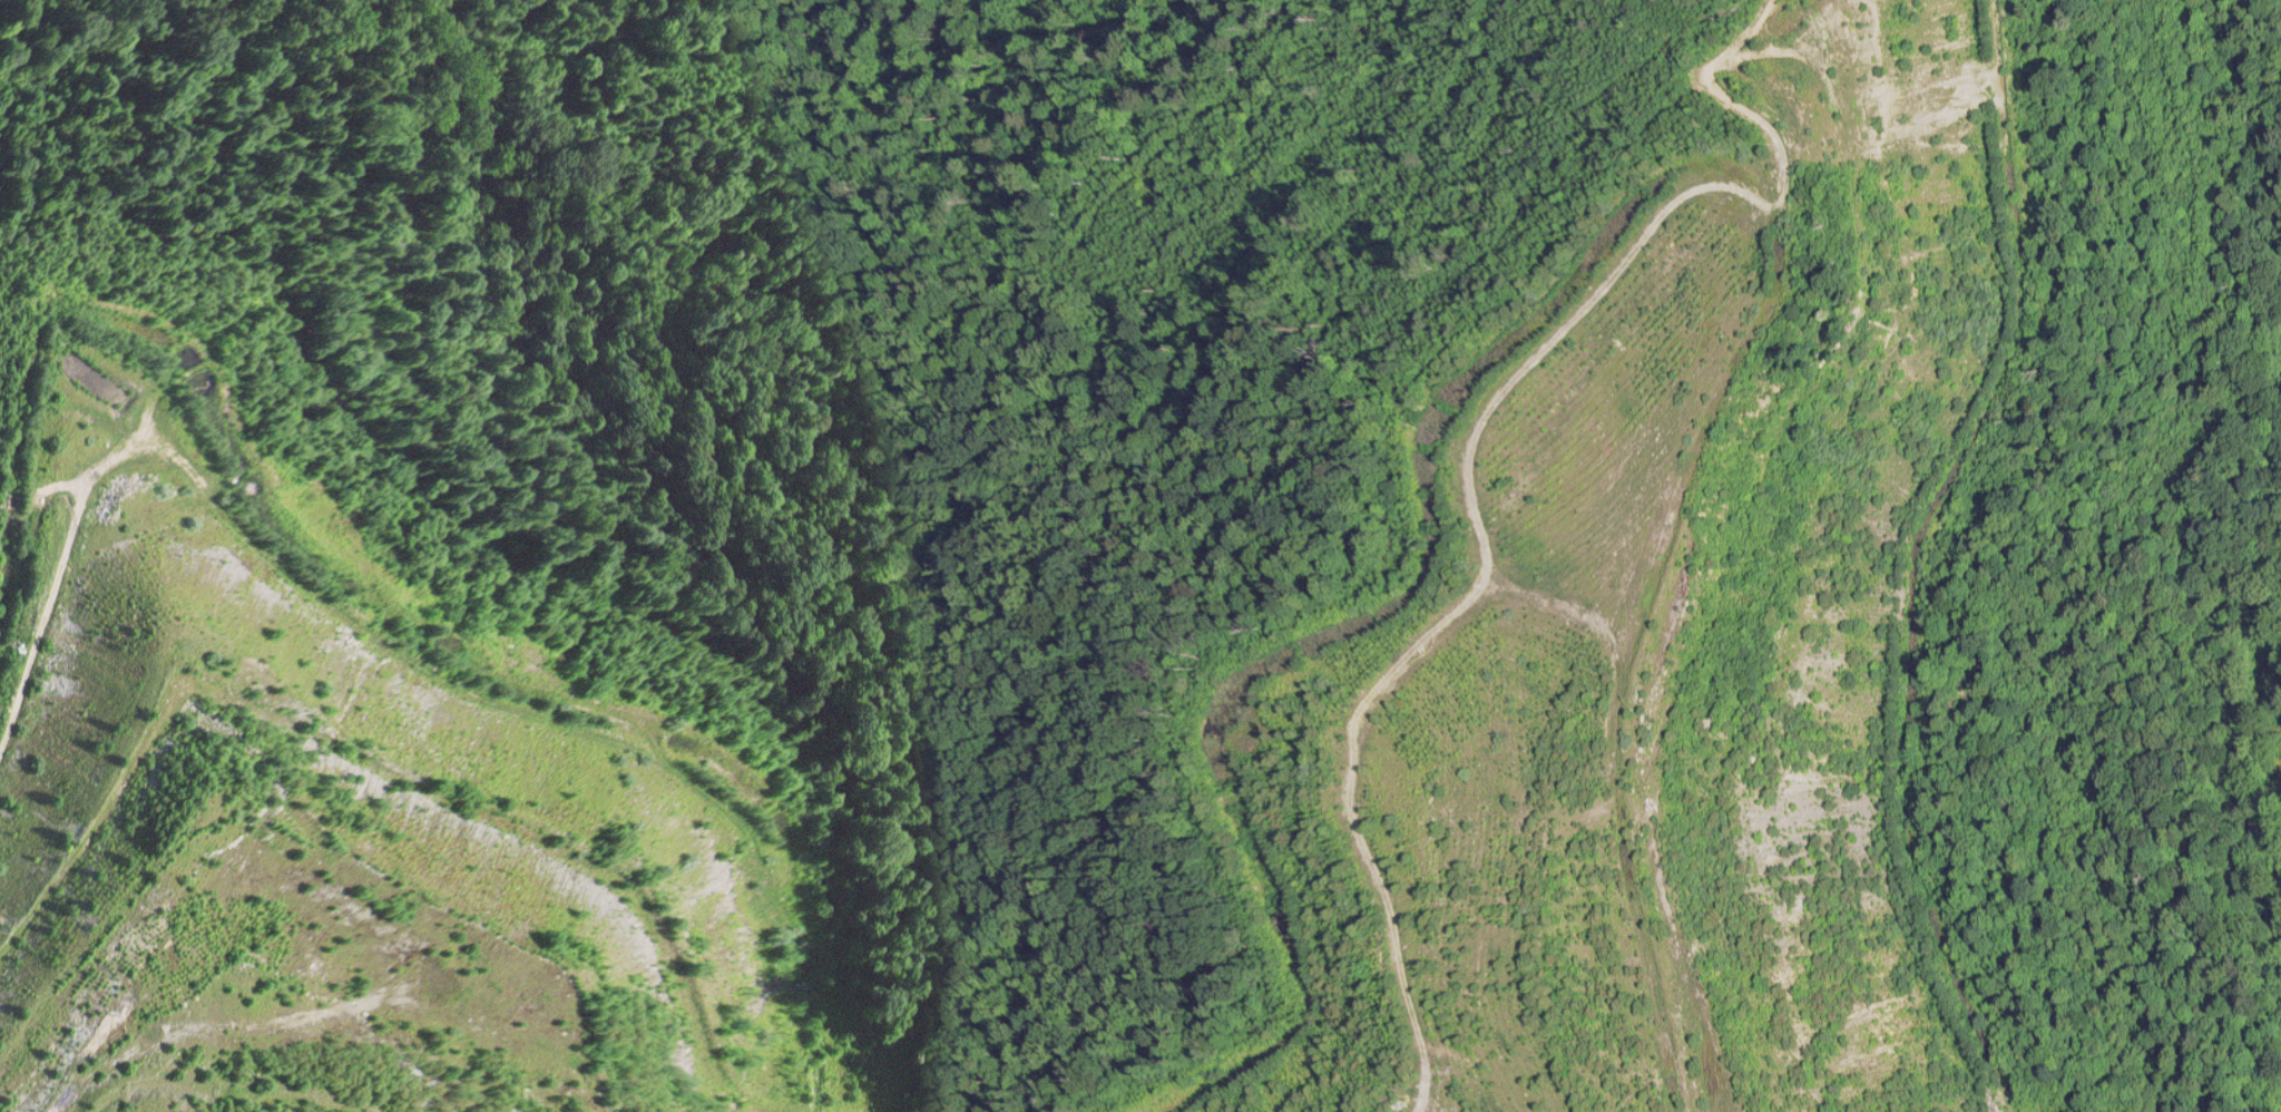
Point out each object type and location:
quarry: (1140, 556)

